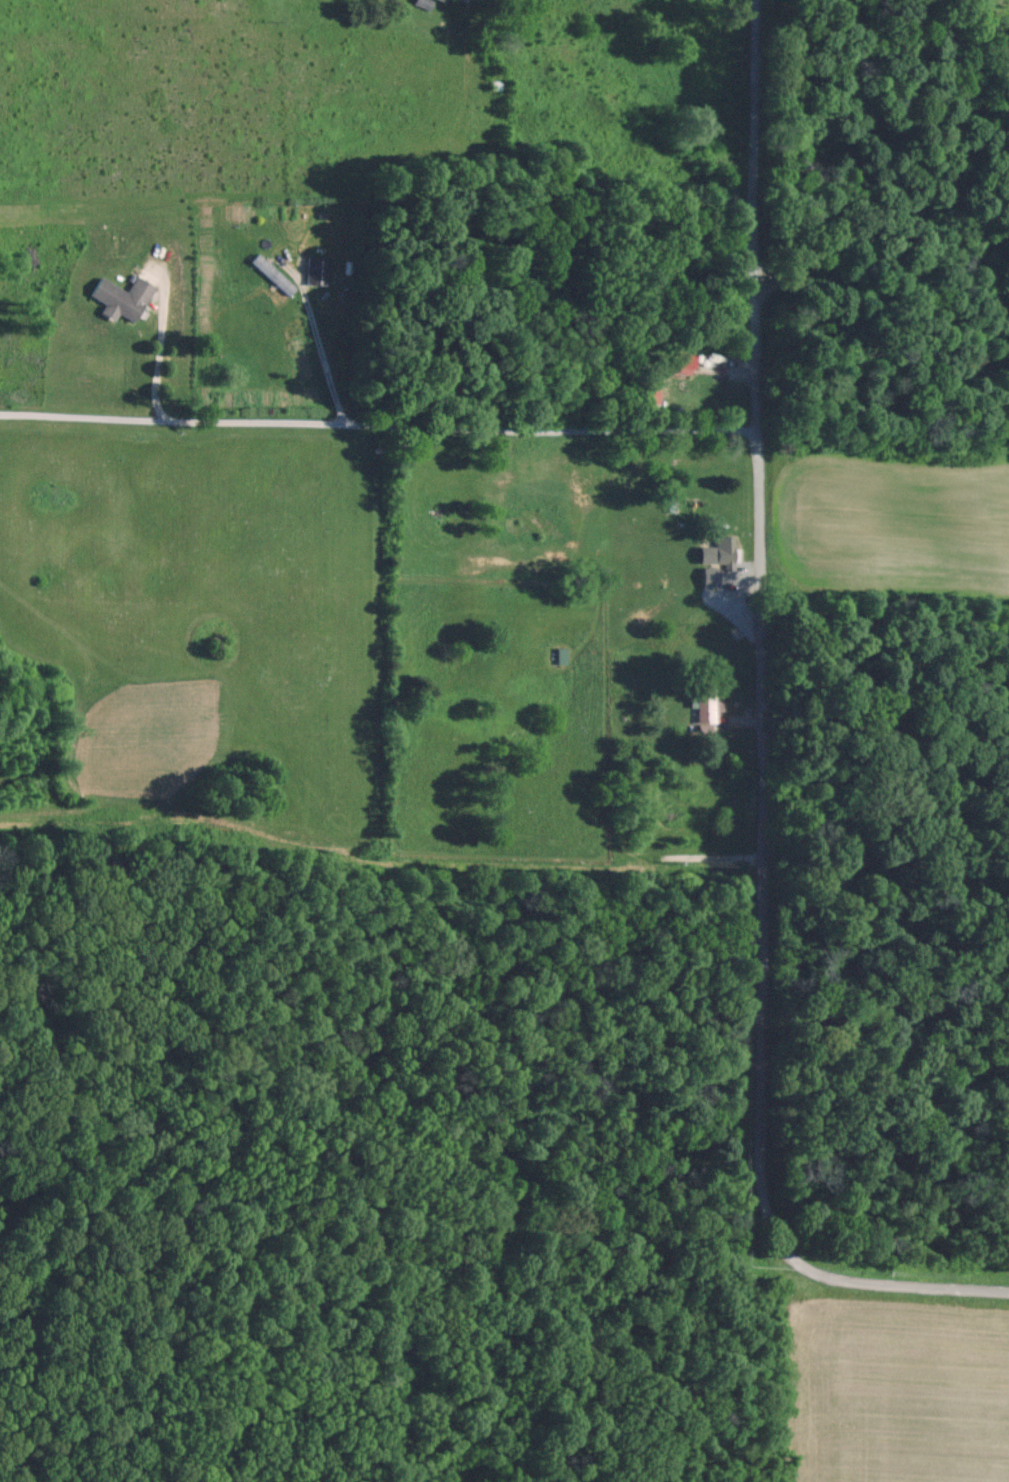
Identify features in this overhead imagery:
building: (445, 0)
building: (471, 0)
building: (319, 270)
building: (275, 273)
building: (124, 297)
road: (159, 354)
road: (324, 359)
building: (681, 361)
road: (381, 426)
building: (714, 560)
building: (703, 703)
road: (763, 742)

